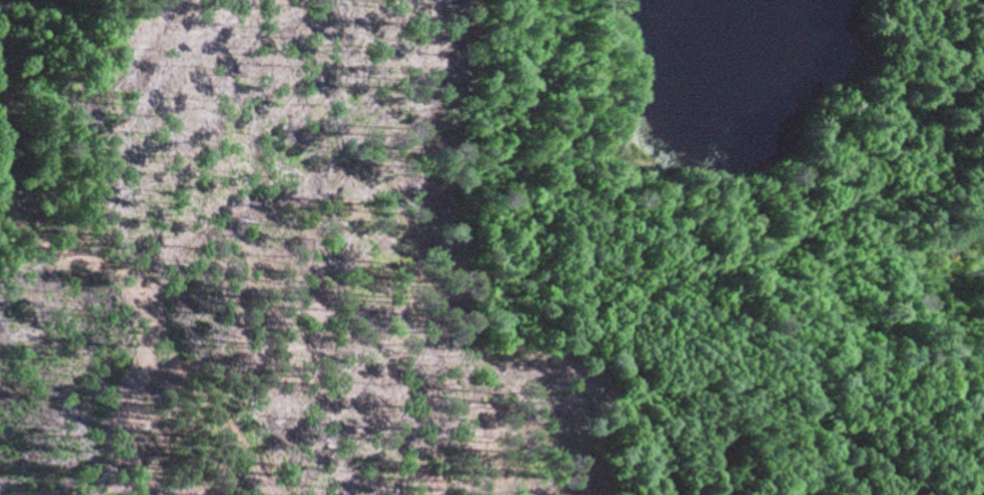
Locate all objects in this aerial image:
quarry: (771, 222)

